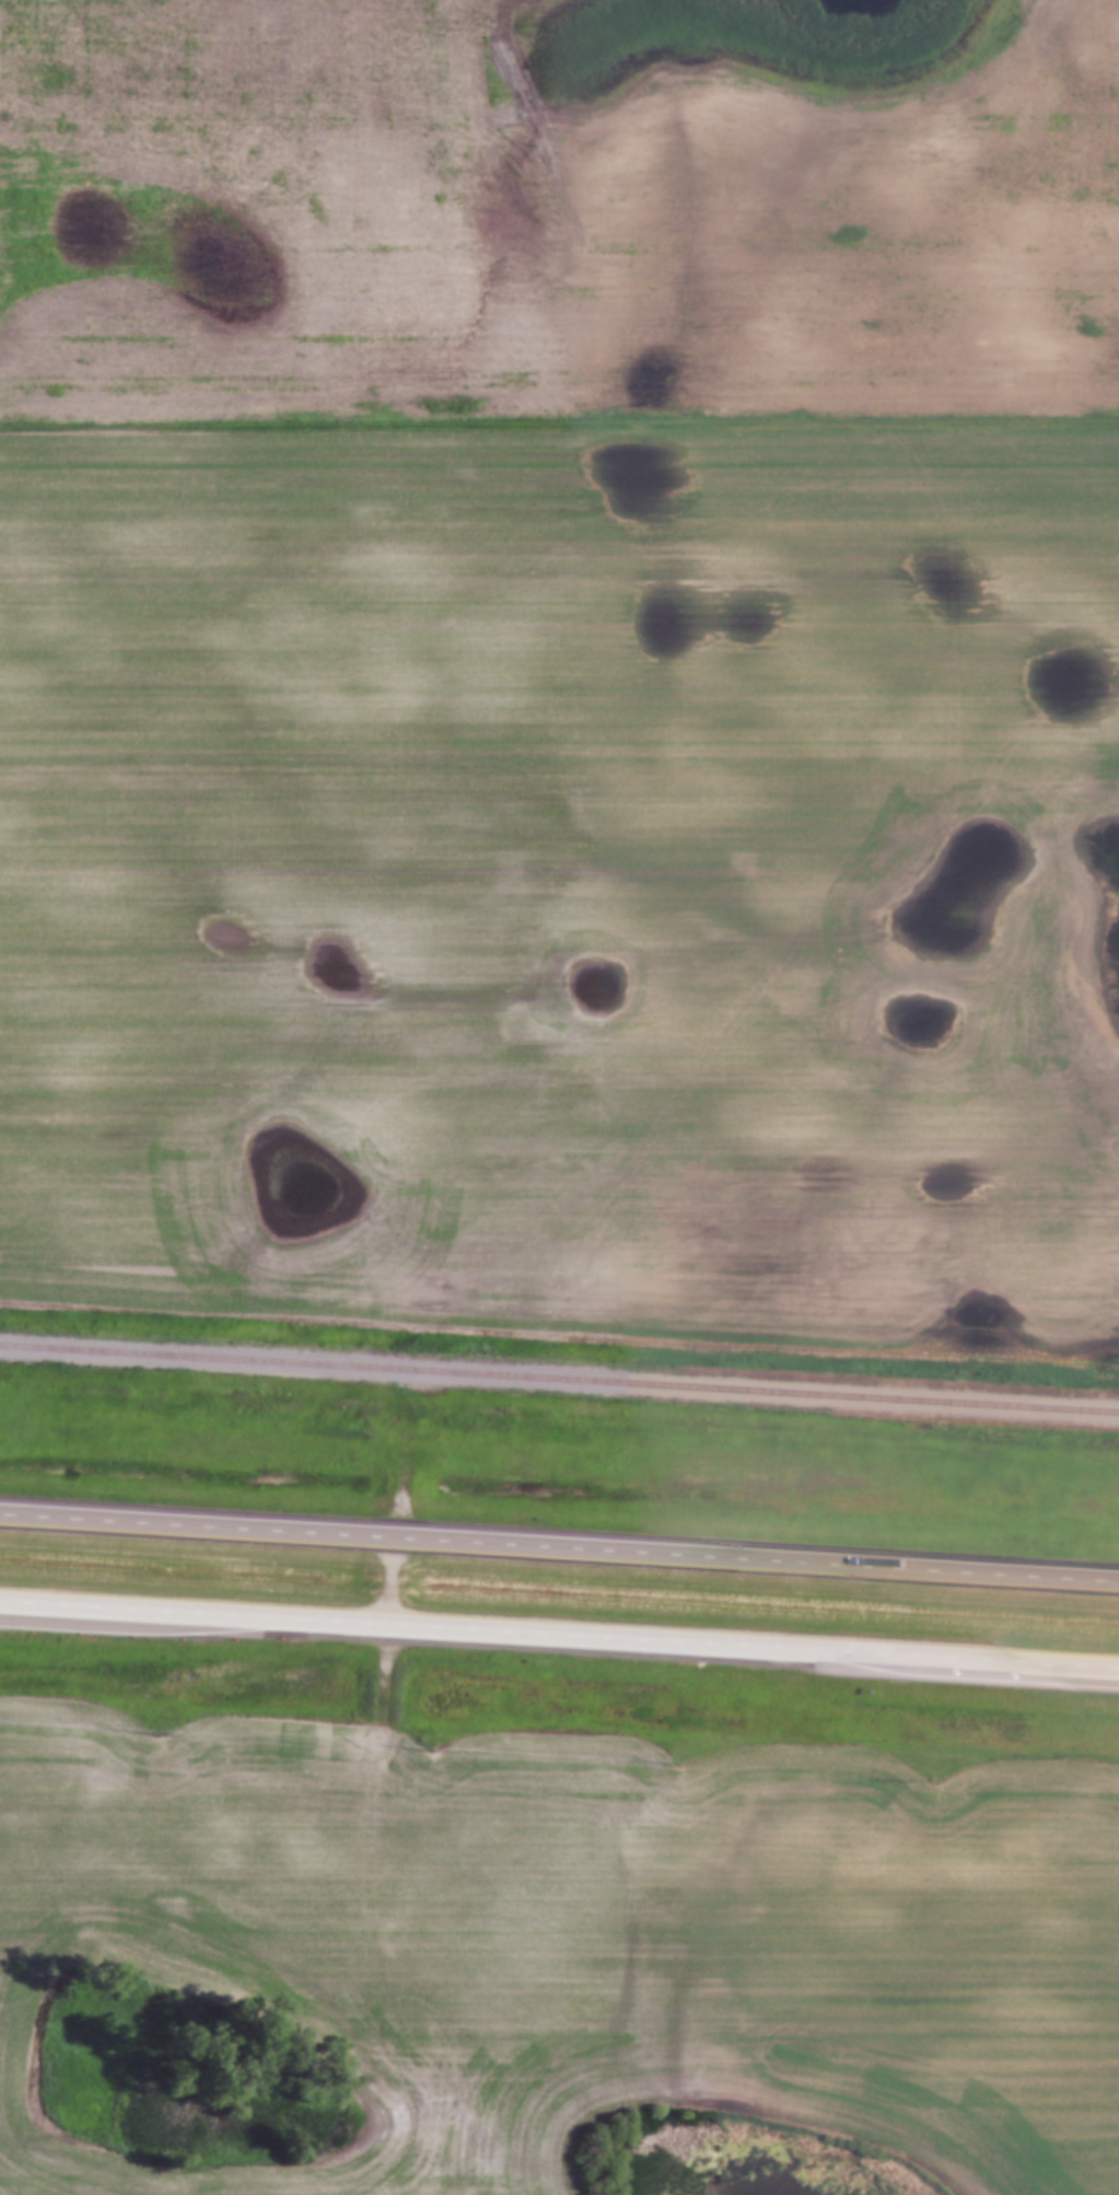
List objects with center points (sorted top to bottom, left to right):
road: (559, 427)
railway: (559, 1379)
road: (400, 1473)
road: (559, 1545)
road: (391, 1579)
road: (559, 1634)
road: (382, 1687)

